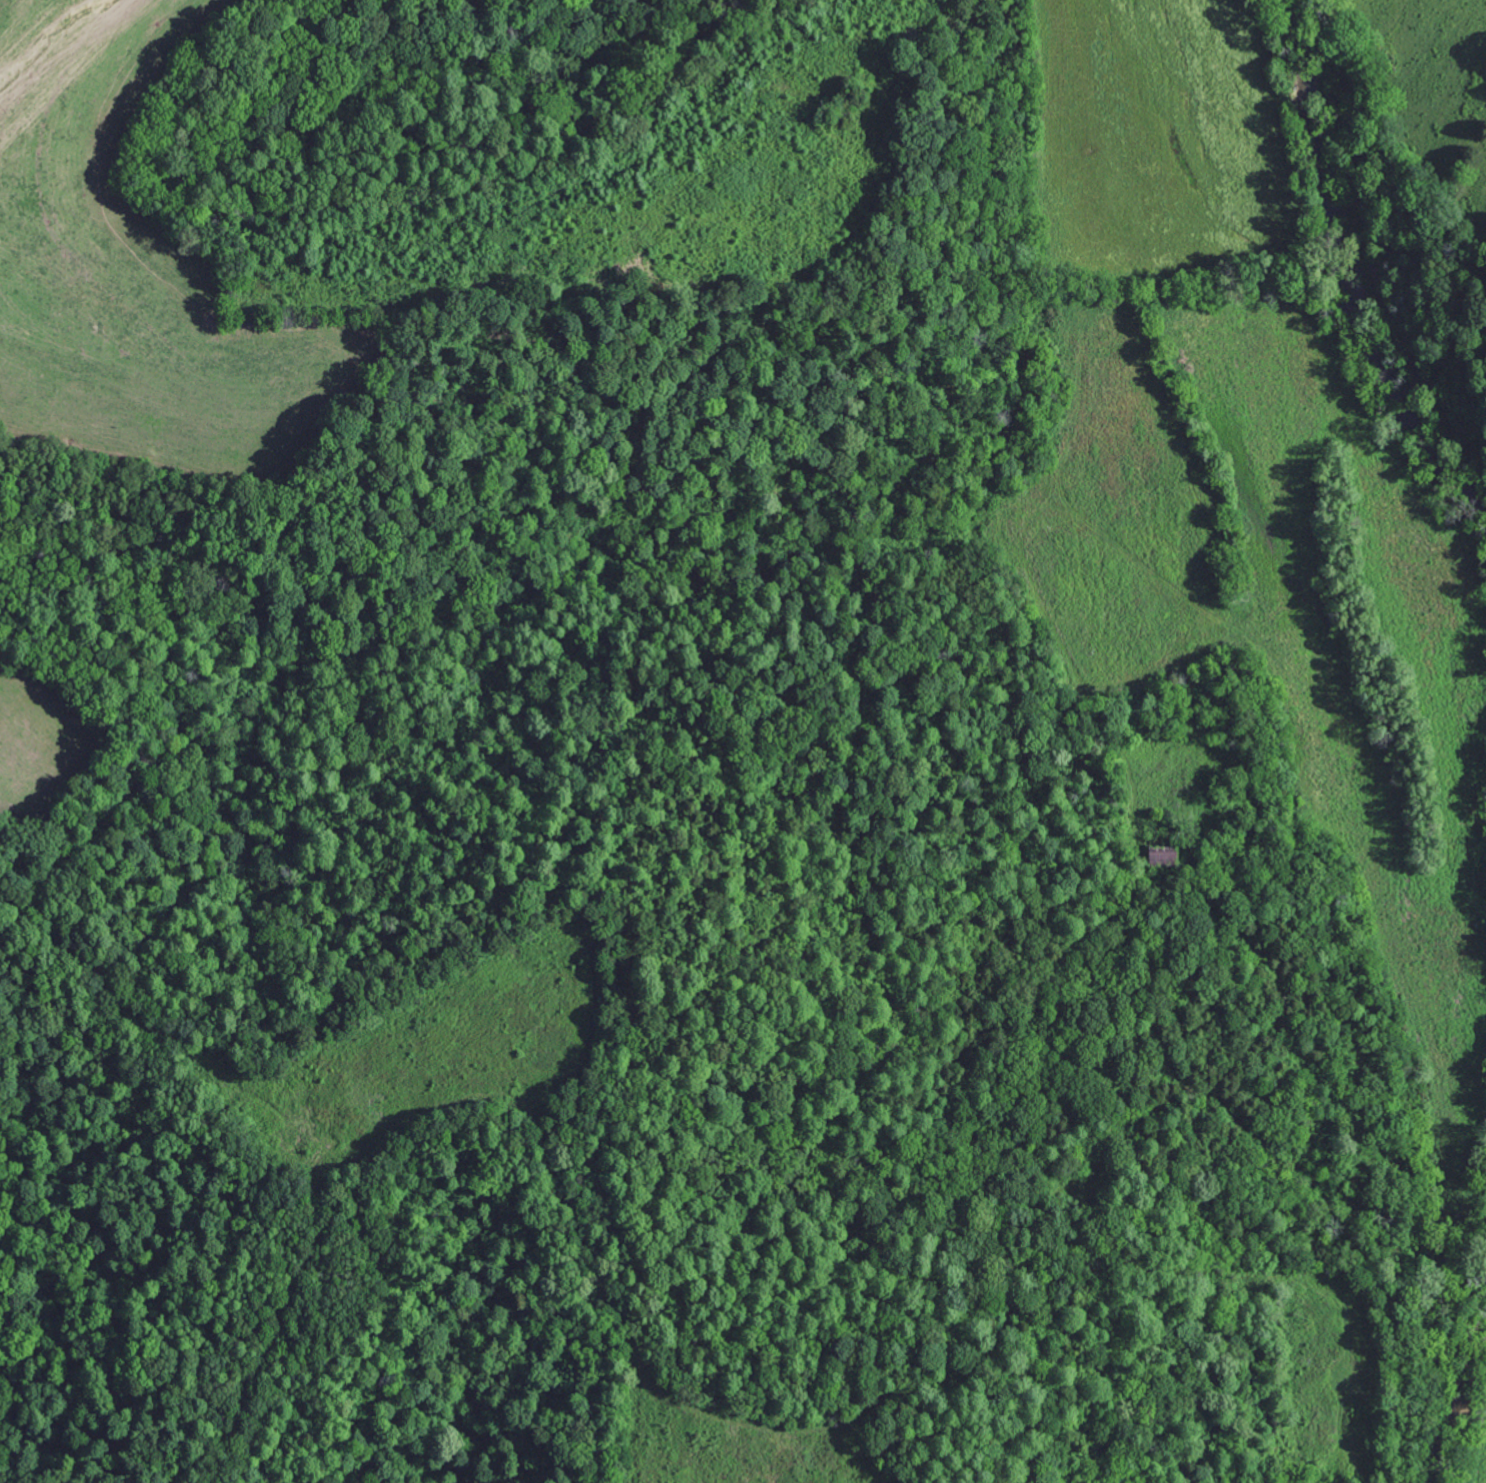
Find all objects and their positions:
road: (1373, 244)
road: (1296, 949)

